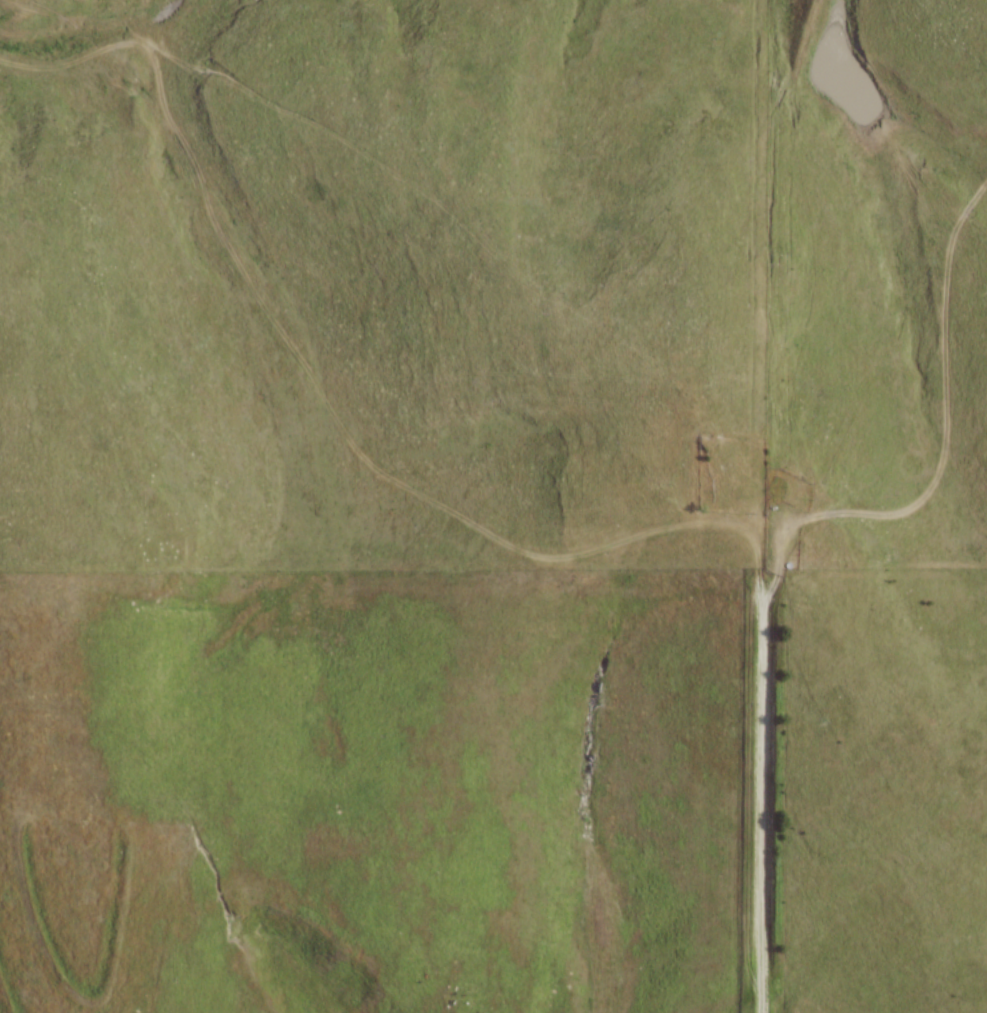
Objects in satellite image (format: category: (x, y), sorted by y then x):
road: (761, 796)

